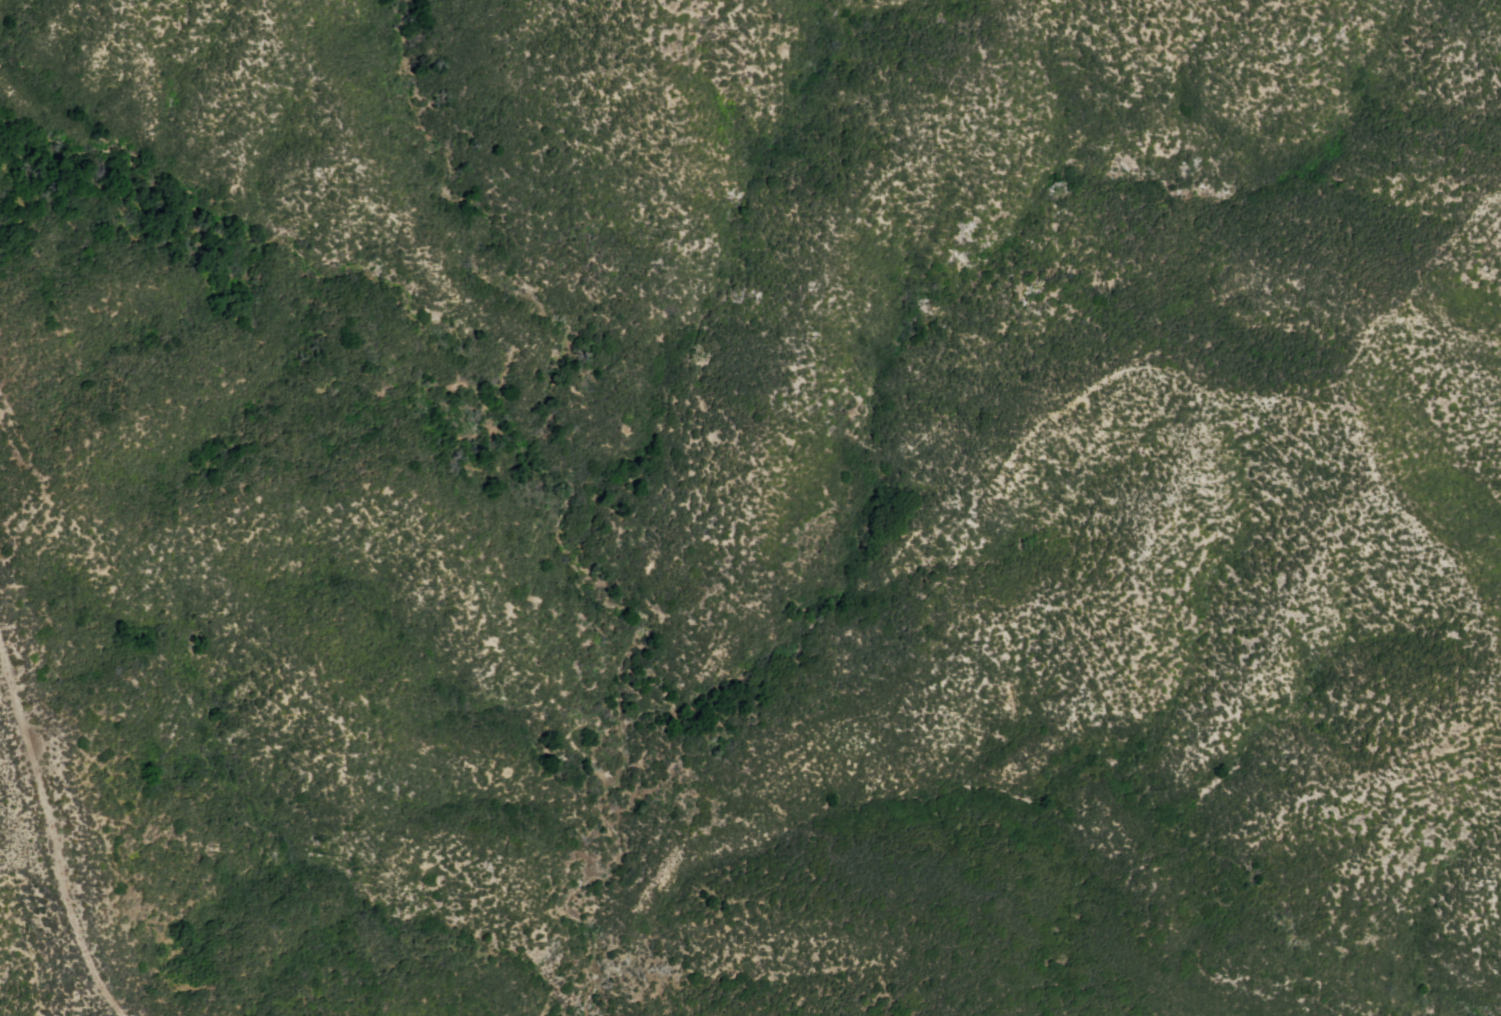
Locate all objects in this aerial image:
road: (53, 829)

